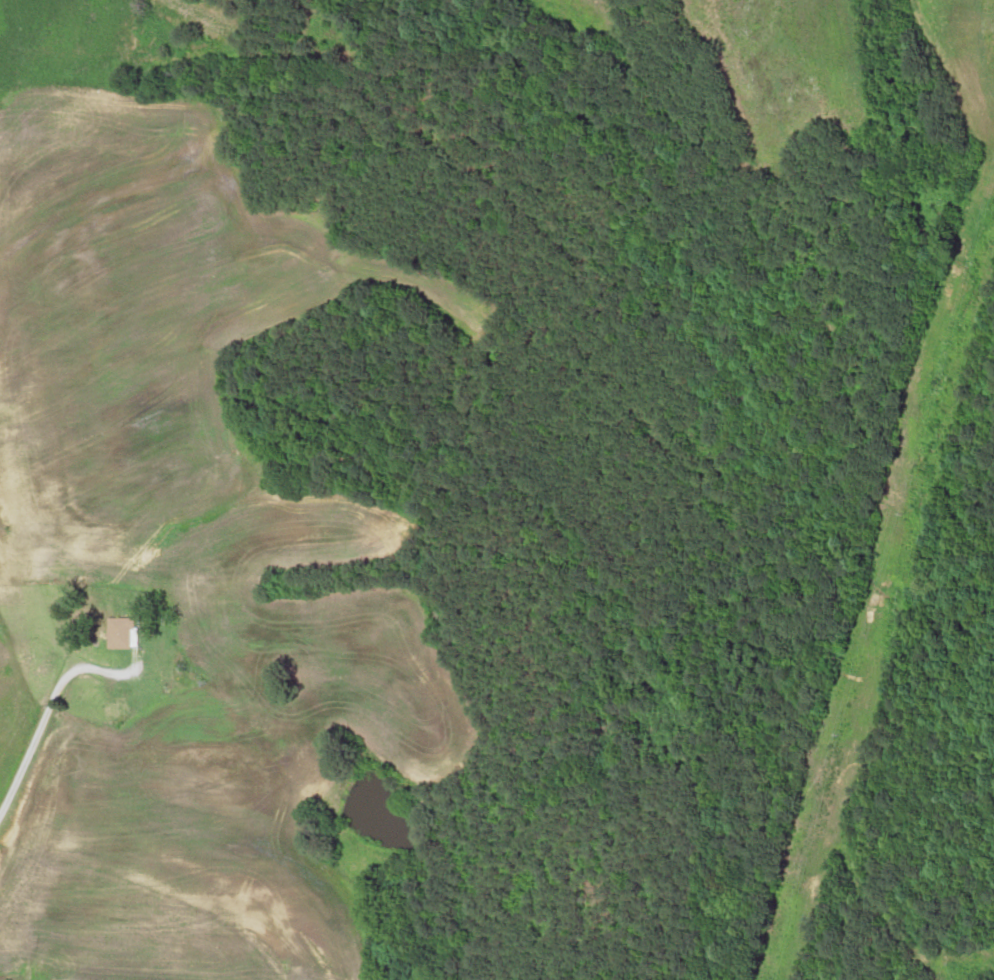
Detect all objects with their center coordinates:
building: (131, 633)
road: (21, 743)

